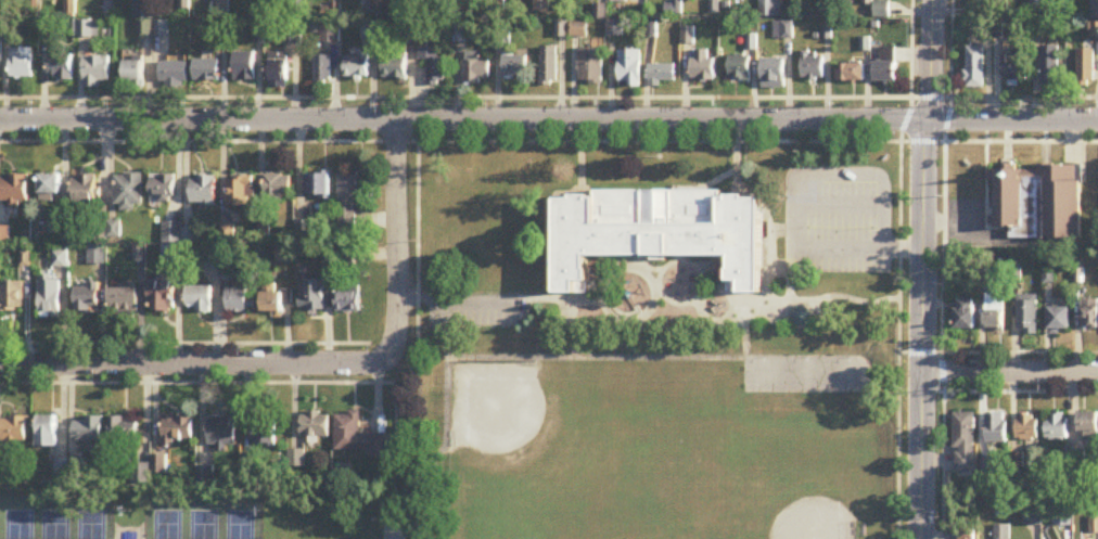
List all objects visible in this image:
building: (622, 0)
building: (542, 5)
building: (1045, 8)
building: (369, 10)
building: (985, 28)
building: (582, 29)
building: (370, 30)
building: (784, 30)
building: (331, 33)
road: (930, 60)
building: (22, 63)
building: (434, 64)
building: (395, 65)
building: (514, 65)
building: (550, 65)
building: (592, 65)
building: (814, 65)
building: (1014, 65)
building: (1051, 65)
building: (704, 66)
building: (61, 67)
building: (244, 67)
building: (358, 67)
building: (740, 67)
building: (630, 68)
building: (975, 68)
building: (1087, 68)
building: (207, 69)
building: (97, 70)
building: (279, 70)
building: (323, 70)
building: (135, 72)
building: (477, 72)
building: (775, 73)
building: (852, 73)
building: (885, 73)
building: (175, 74)
building: (663, 74)
road: (1004, 94)
road: (455, 95)
road: (549, 118)
road: (549, 140)
building: (50, 184)
building: (279, 187)
building: (319, 187)
building: (14, 188)
building: (85, 189)
building: (163, 189)
building: (129, 191)
building: (204, 191)
building: (240, 191)
building: (349, 194)
road: (795, 197)
building: (1037, 202)
road: (839, 206)
building: (660, 230)
road: (396, 242)
building: (285, 253)
building: (97, 254)
building: (210, 254)
building: (61, 258)
road: (899, 268)
road: (943, 269)
building: (312, 294)
building: (12, 295)
building: (50, 296)
building: (162, 296)
building: (87, 297)
road: (457, 297)
building: (199, 298)
building: (240, 299)
building: (276, 299)
building: (123, 301)
building: (348, 301)
building: (995, 311)
building: (965, 313)
building: (1027, 315)
building: (1089, 315)
building: (1060, 319)
road: (921, 329)
road: (184, 342)
road: (998, 350)
road: (595, 357)
road: (190, 360)
road: (1009, 370)
park: (807, 372)
road: (322, 381)
road: (998, 389)
road: (445, 405)
building: (315, 425)
building: (1027, 427)
building: (1056, 427)
building: (1088, 427)
building: (996, 428)
building: (14, 429)
building: (88, 429)
building: (123, 429)
building: (178, 431)
building: (47, 432)
building: (265, 433)
building: (222, 434)
building: (357, 437)
building: (963, 441)
road: (396, 460)
park: (194, 514)
park: (18, 525)
park: (55, 525)
park: (91, 525)
park: (167, 525)
park: (203, 525)
park: (240, 525)
road: (129, 530)
building: (1001, 532)
building: (967, 535)

